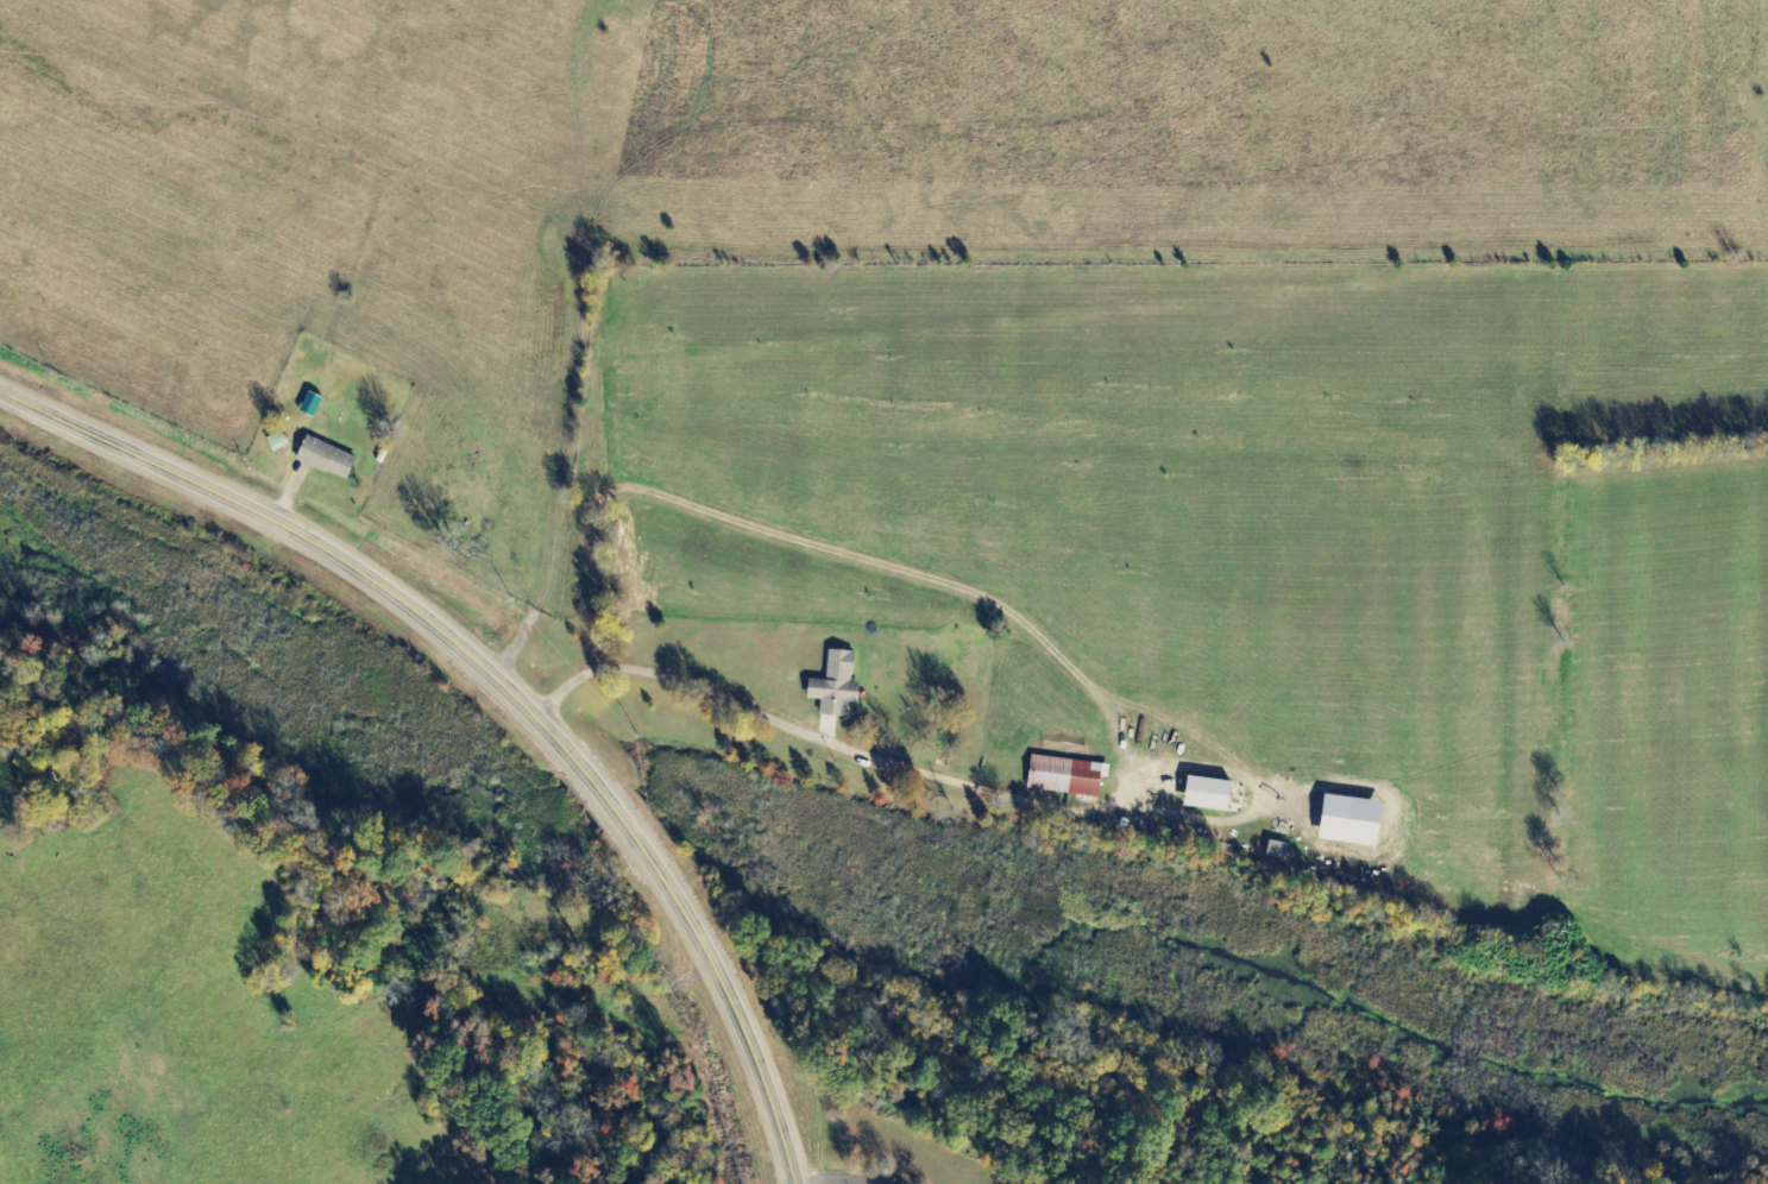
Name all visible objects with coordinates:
building: (279, 442)
building: (329, 459)
road: (503, 686)
building: (838, 686)
road: (803, 735)
building: (1069, 777)
building: (1213, 795)
building: (1357, 821)
building: (1281, 851)
road: (836, 1183)

